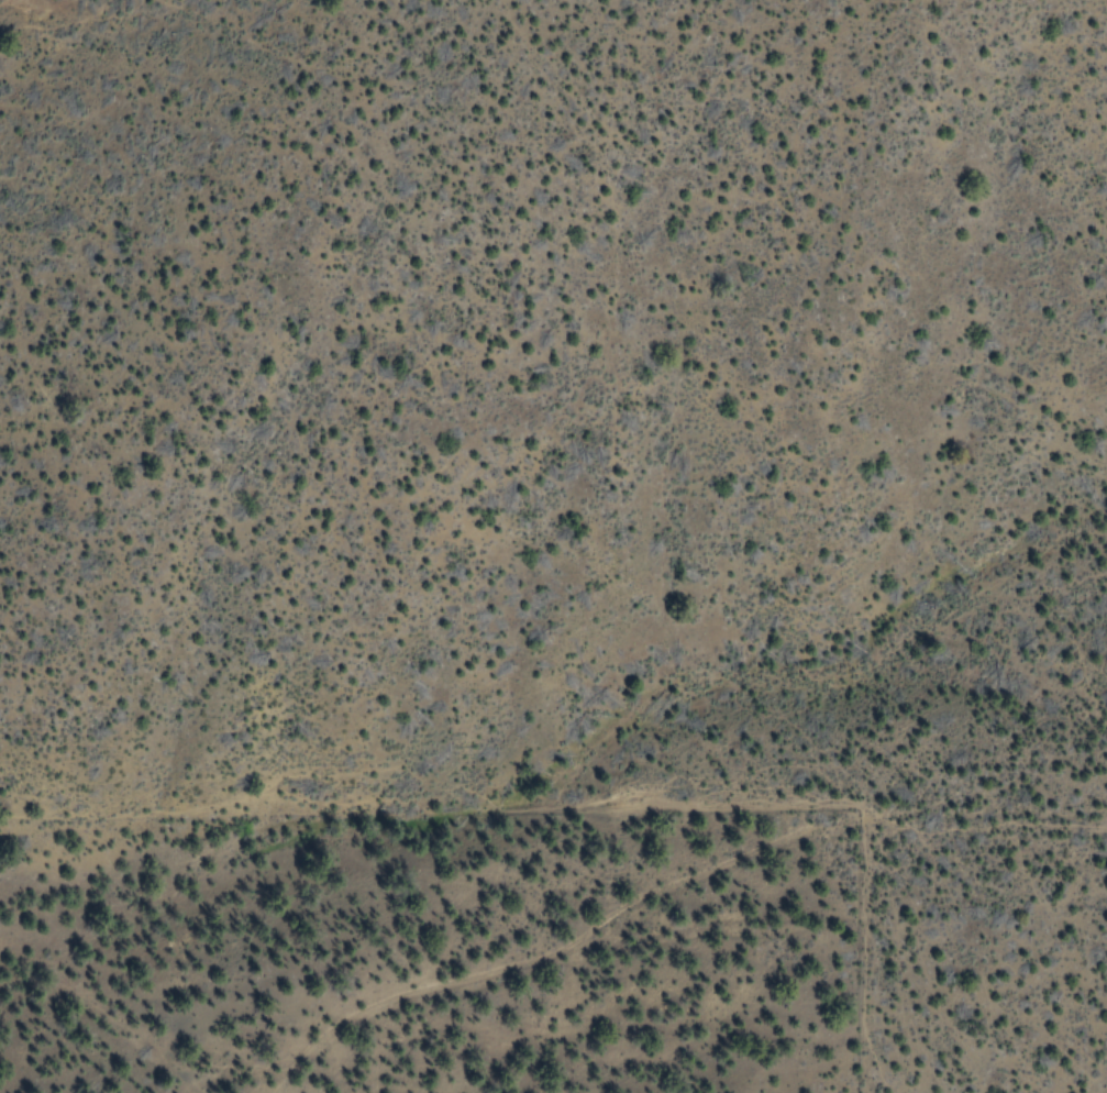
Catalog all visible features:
road: (675, 908)

